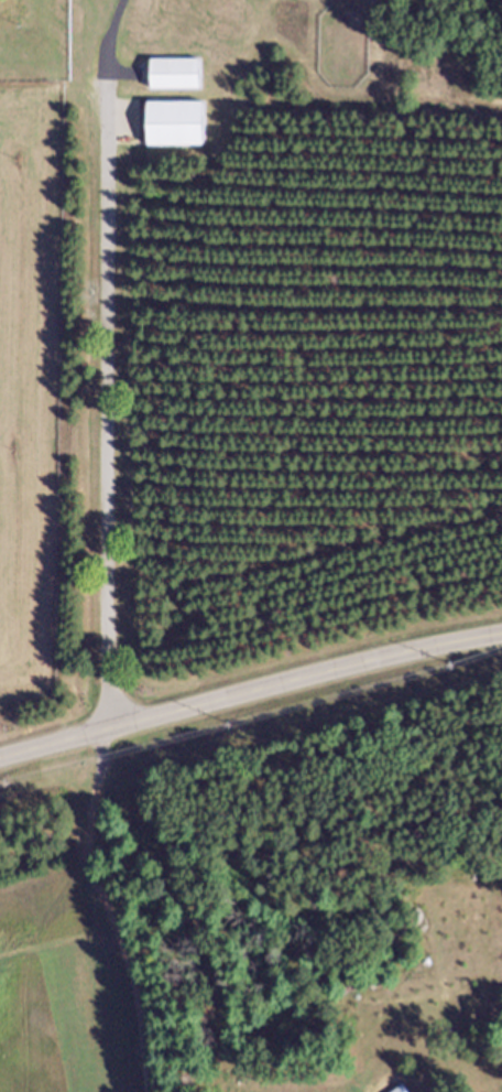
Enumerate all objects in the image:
building: (181, 82)
building: (179, 131)
road: (107, 363)
road: (250, 692)
road: (107, 910)

